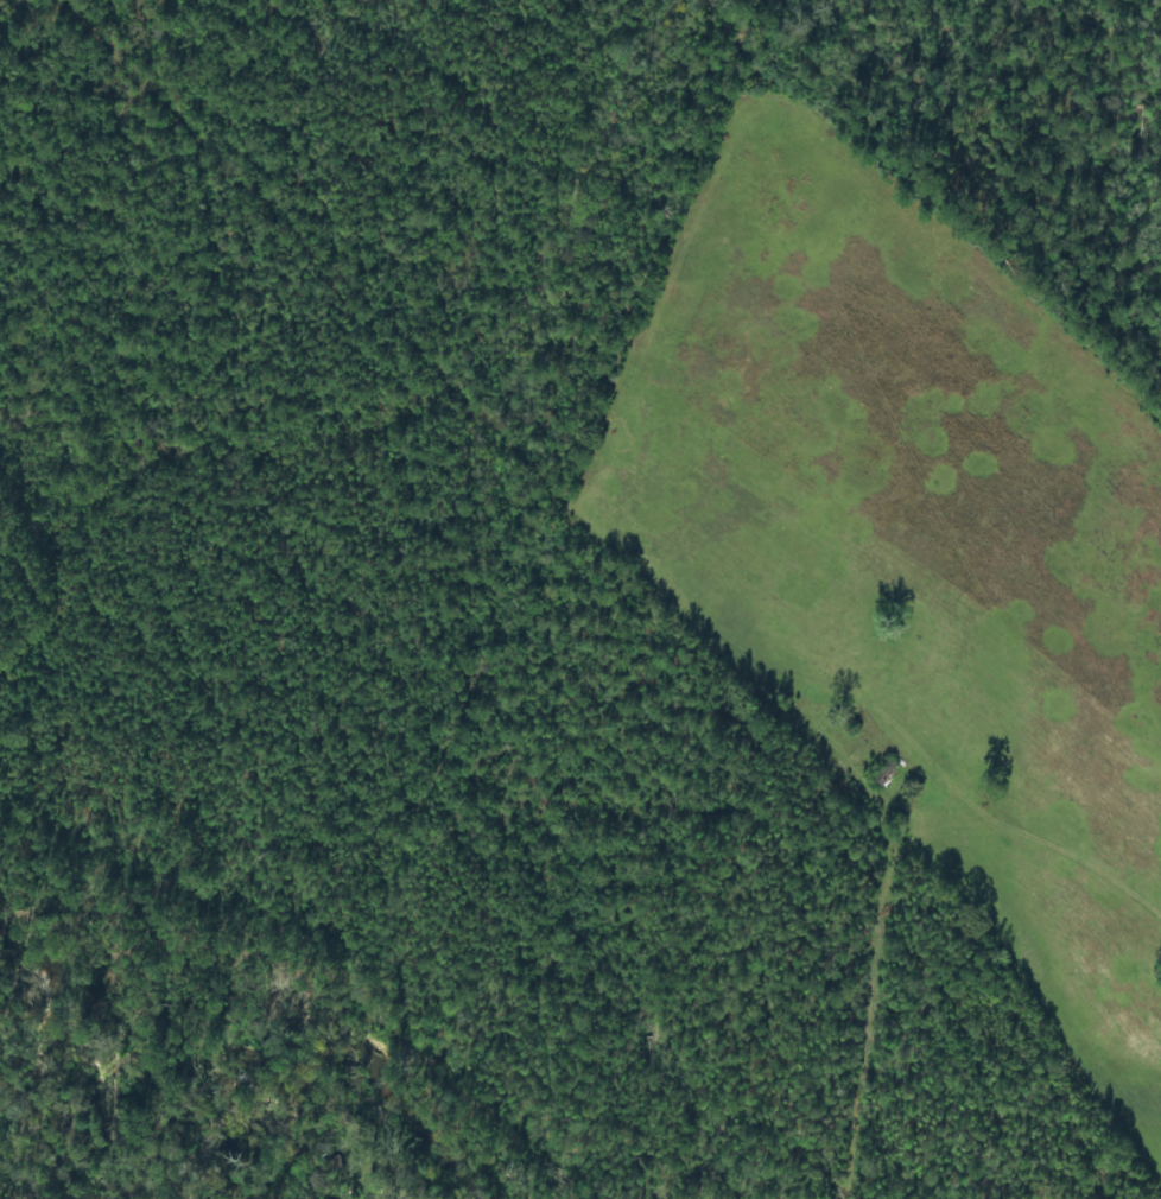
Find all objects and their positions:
road: (1081, 982)

